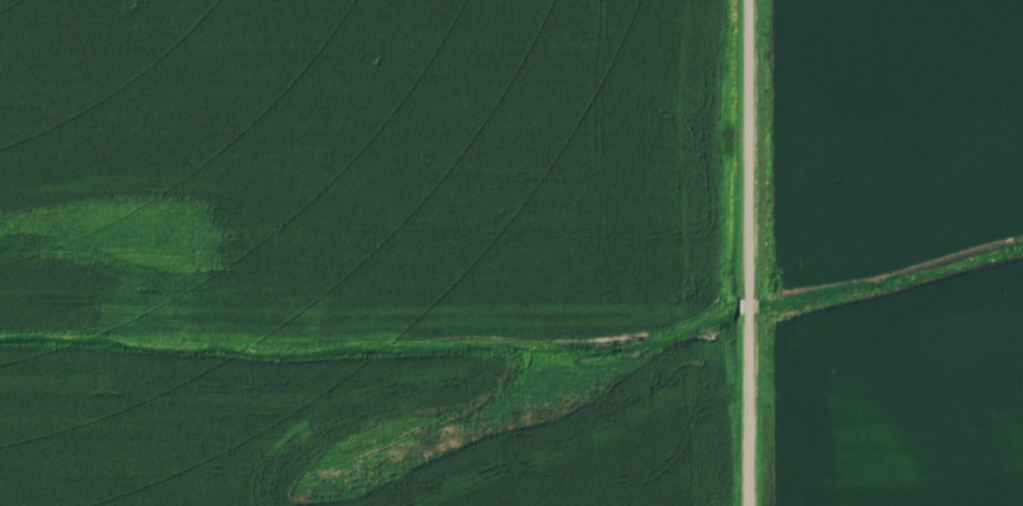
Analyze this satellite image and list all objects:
road: (747, 253)

